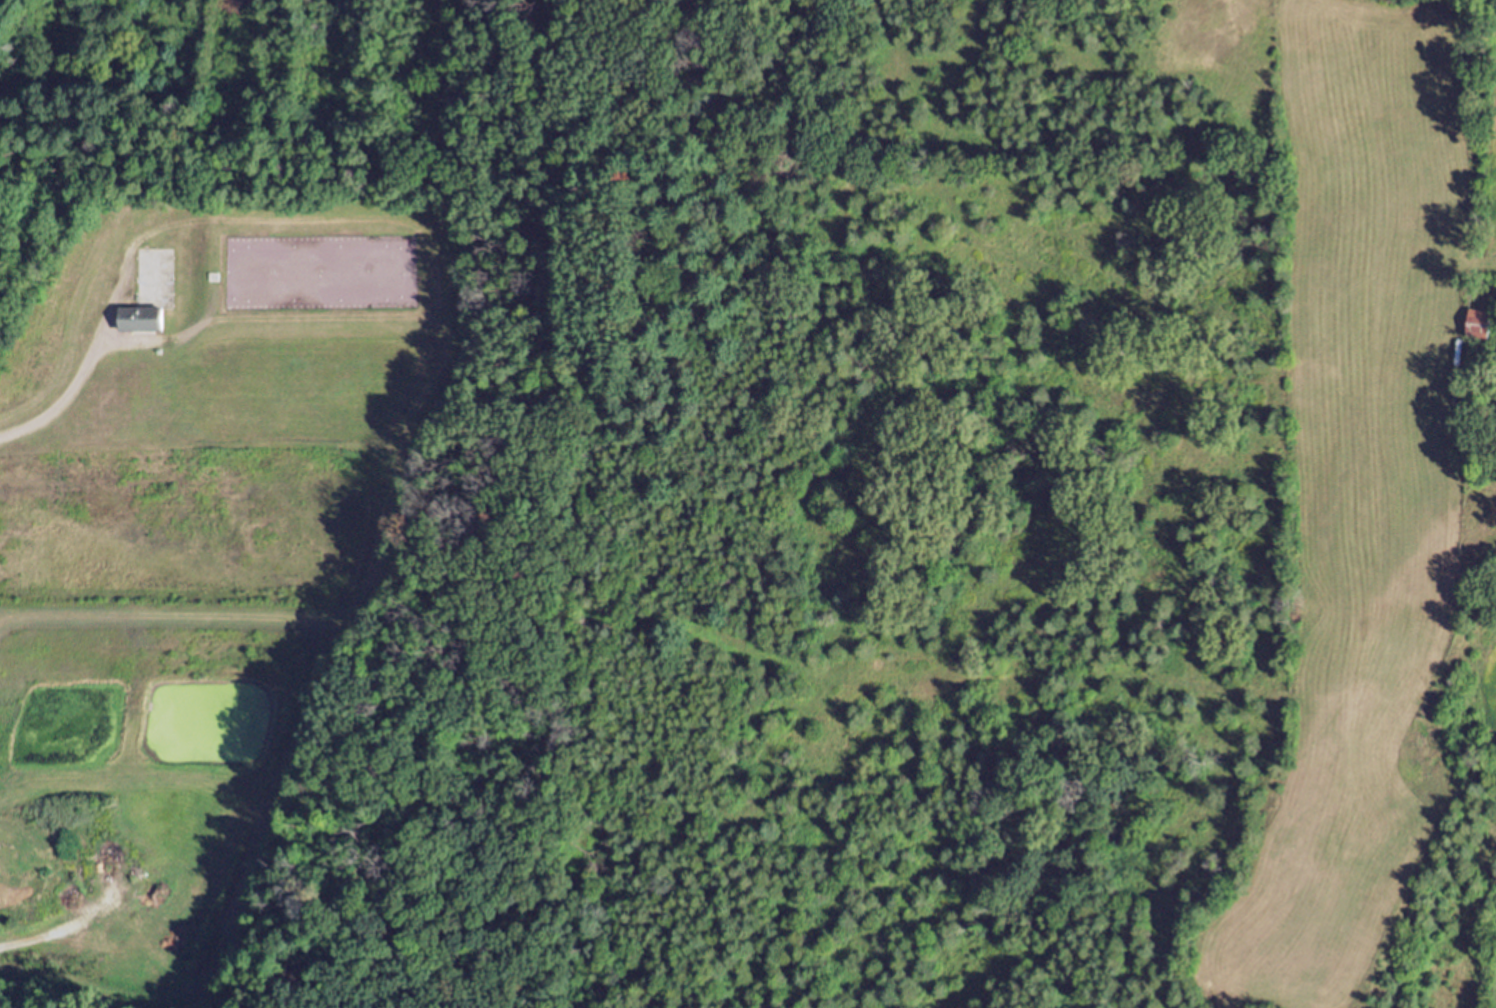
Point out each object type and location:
building: (141, 323)
building: (1483, 328)
road: (58, 400)

